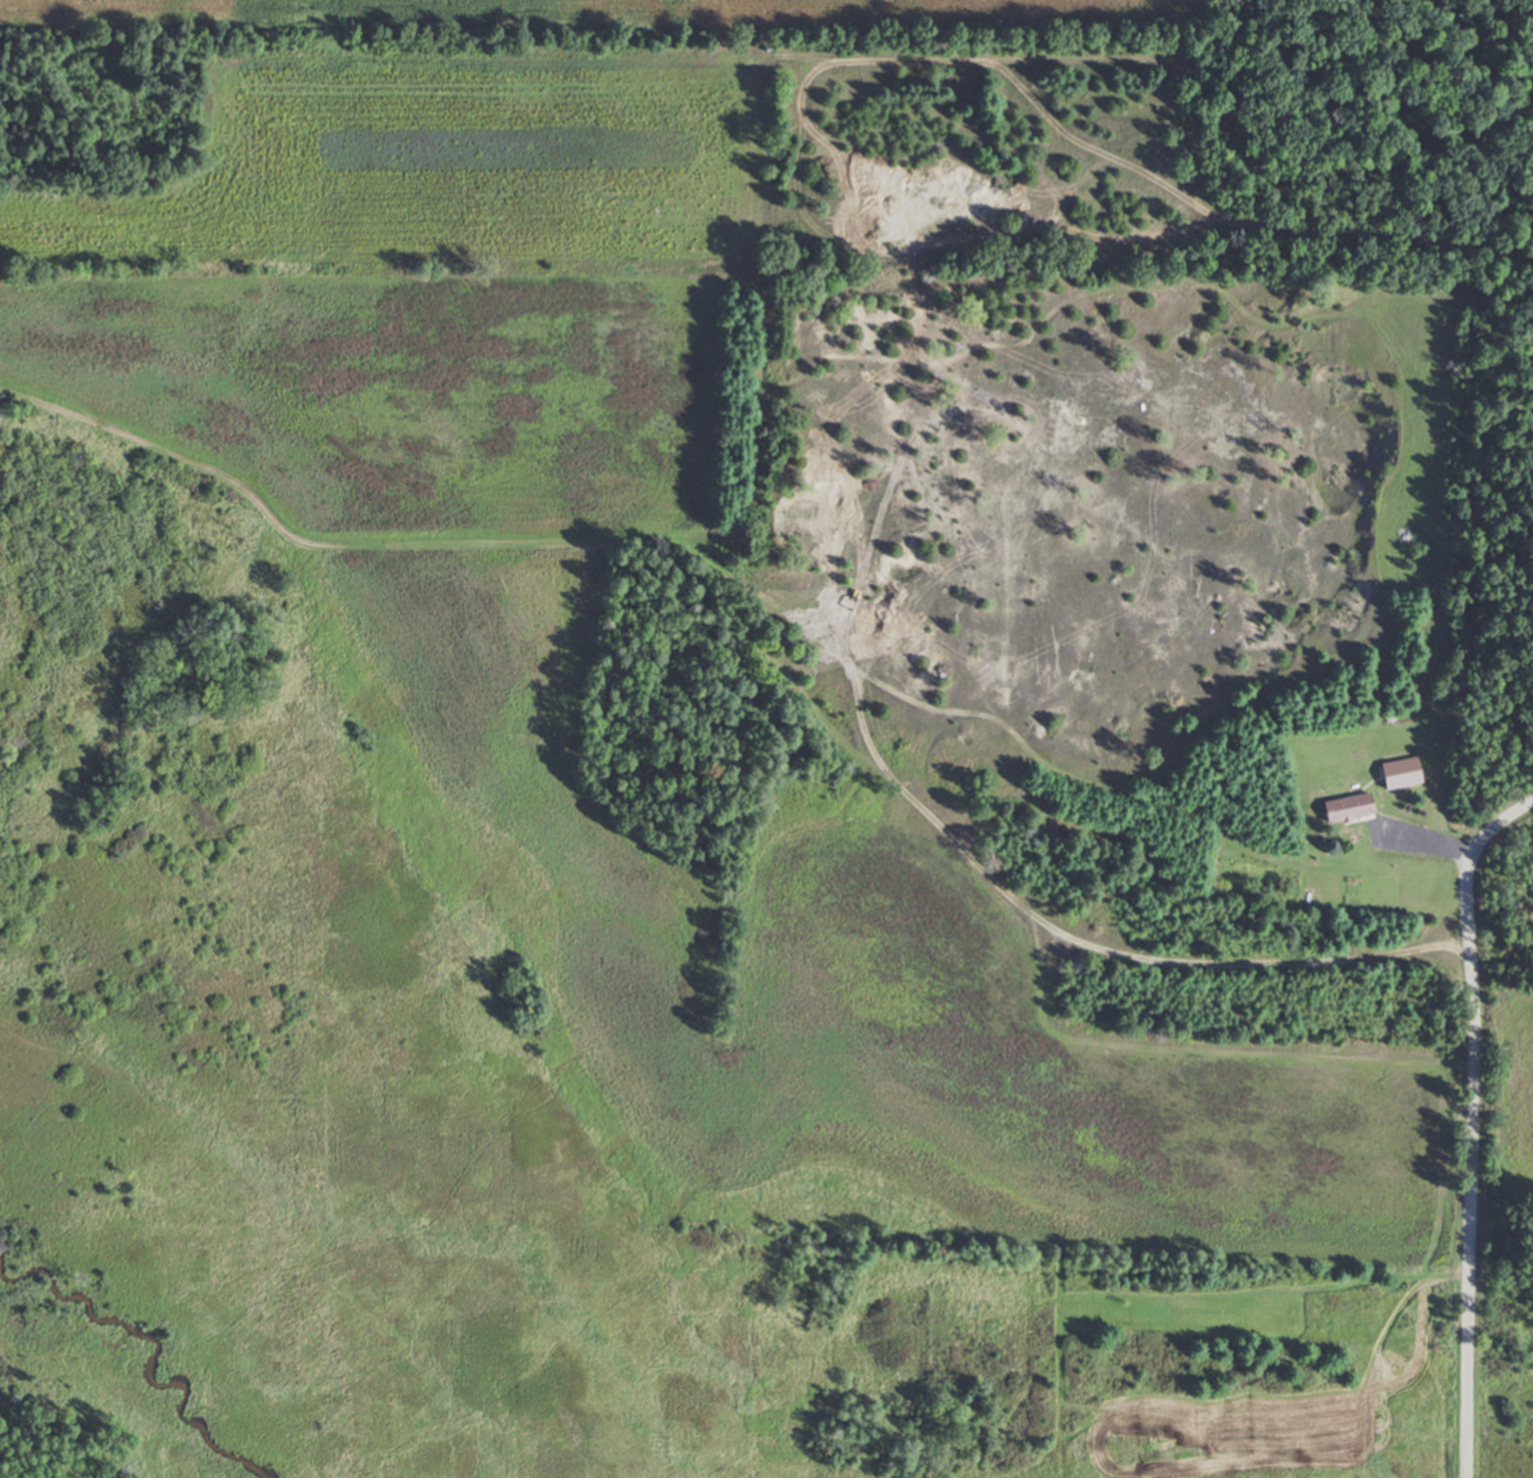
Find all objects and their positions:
building: (1402, 782)
building: (1351, 818)
road: (1466, 1128)

